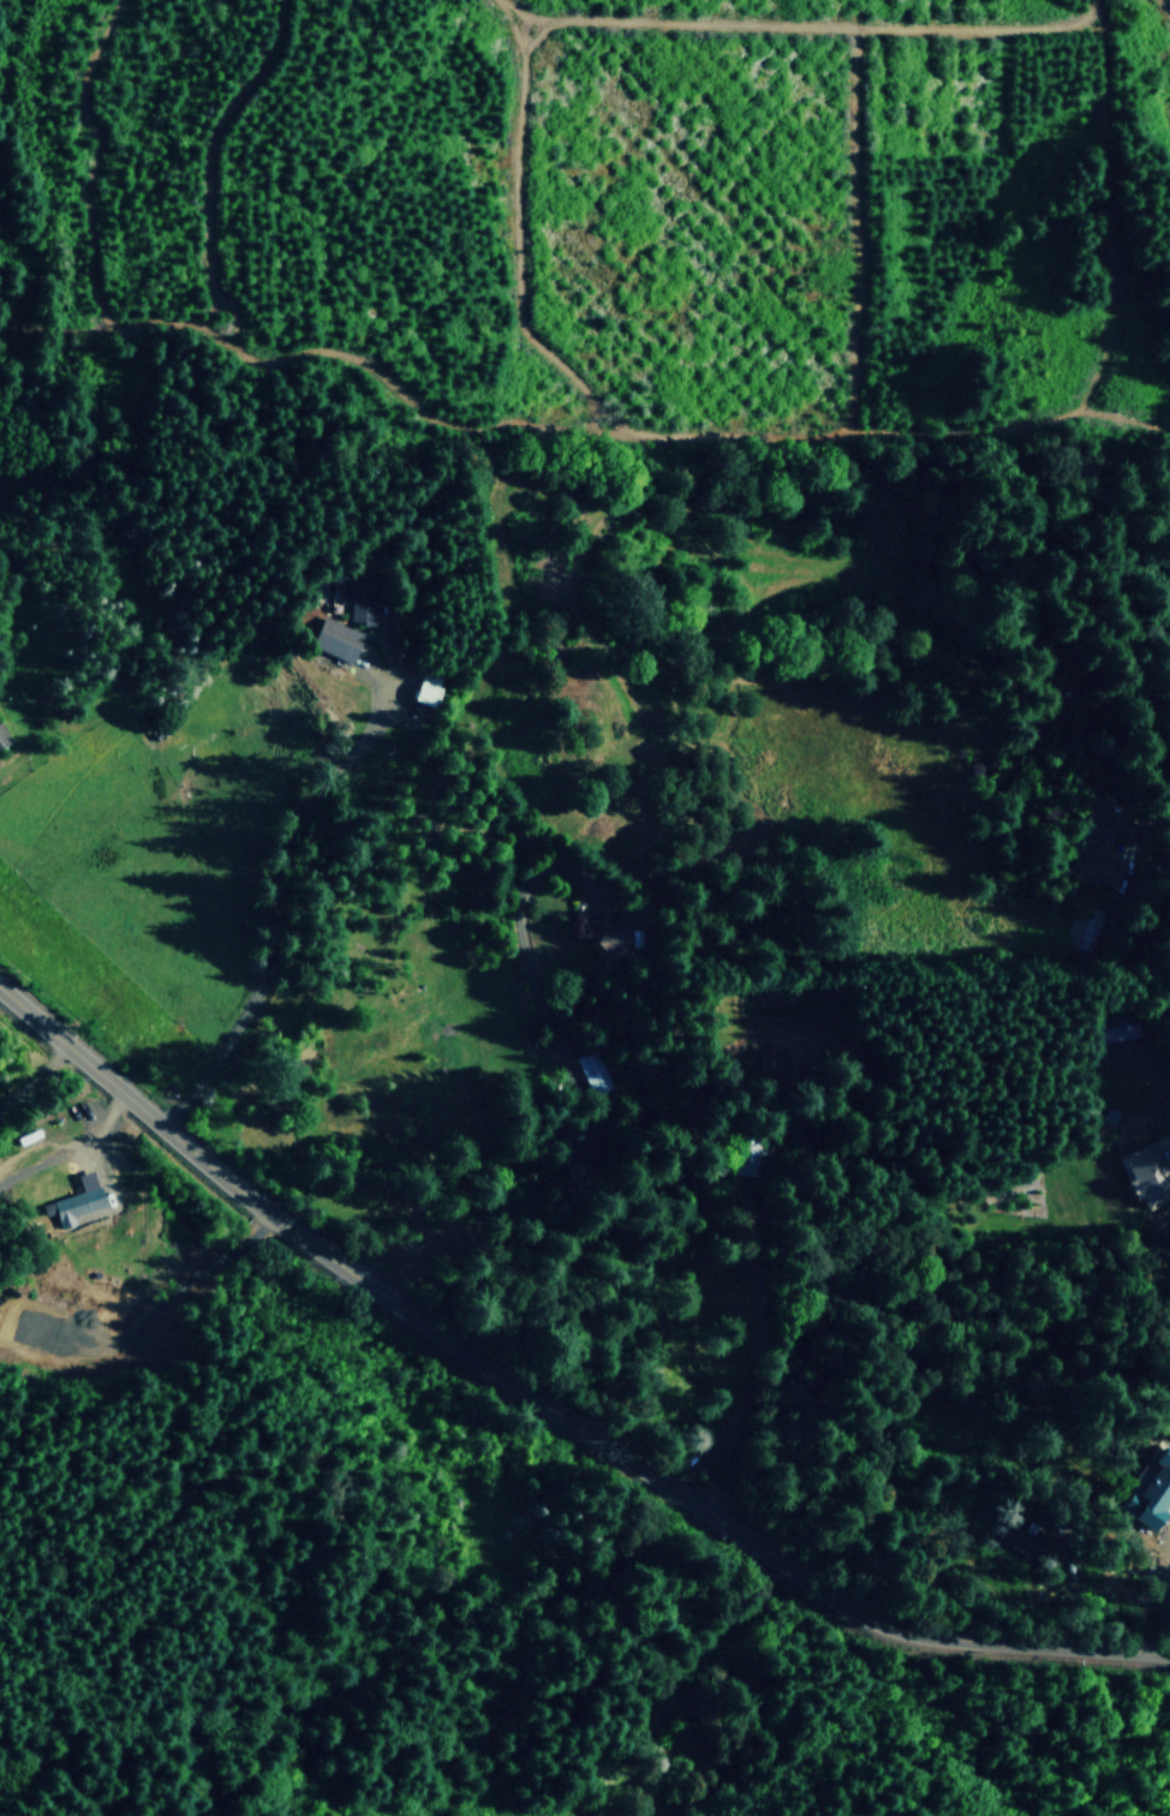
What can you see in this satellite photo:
building: (360, 598)
building: (335, 639)
road: (1139, 669)
building: (429, 687)
building: (4, 734)
building: (1100, 846)
road: (273, 908)
building: (613, 939)
building: (1114, 1027)
road: (1148, 1064)
road: (31, 1069)
building: (595, 1071)
road: (579, 1104)
road: (92, 1137)
building: (750, 1154)
building: (1146, 1175)
building: (77, 1200)
road: (548, 1406)
building: (1148, 1488)
building: (1019, 1540)
road: (1166, 1582)

